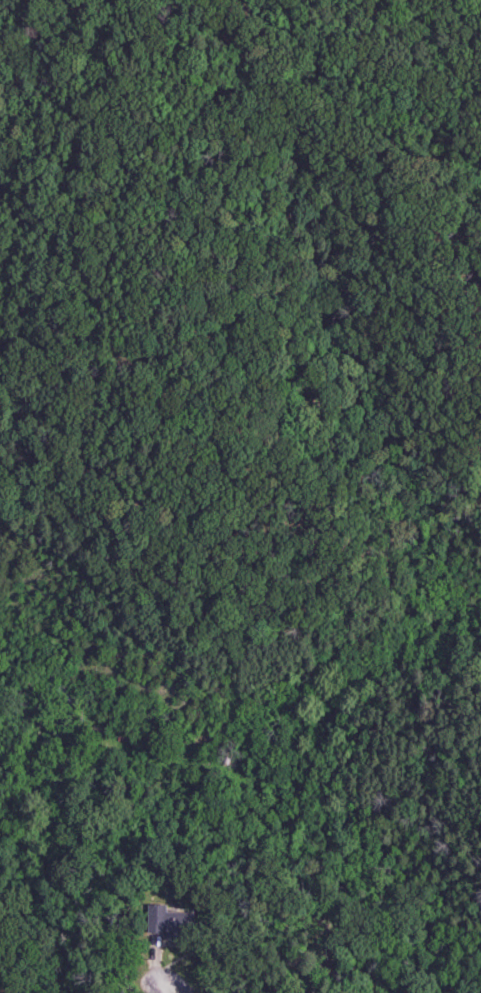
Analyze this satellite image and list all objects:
building: (169, 923)
road: (167, 987)

